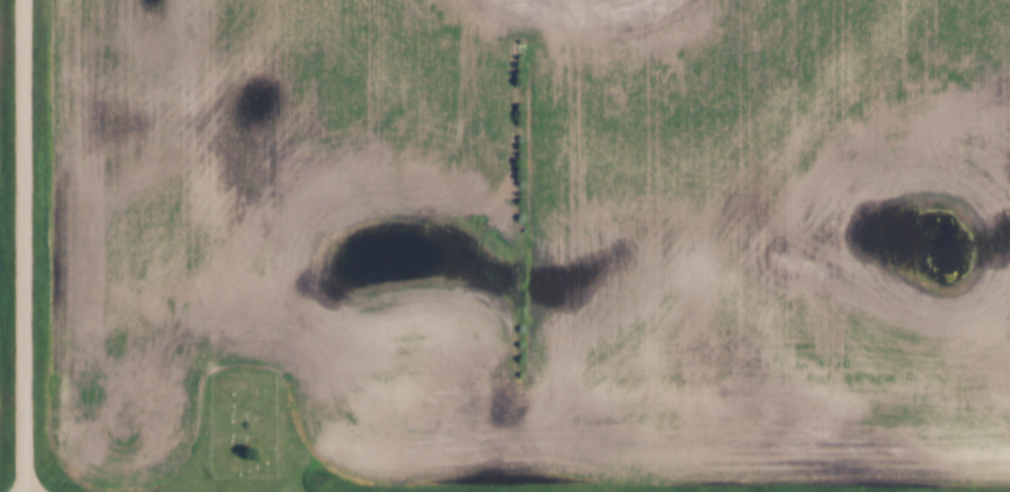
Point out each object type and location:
road: (26, 246)

